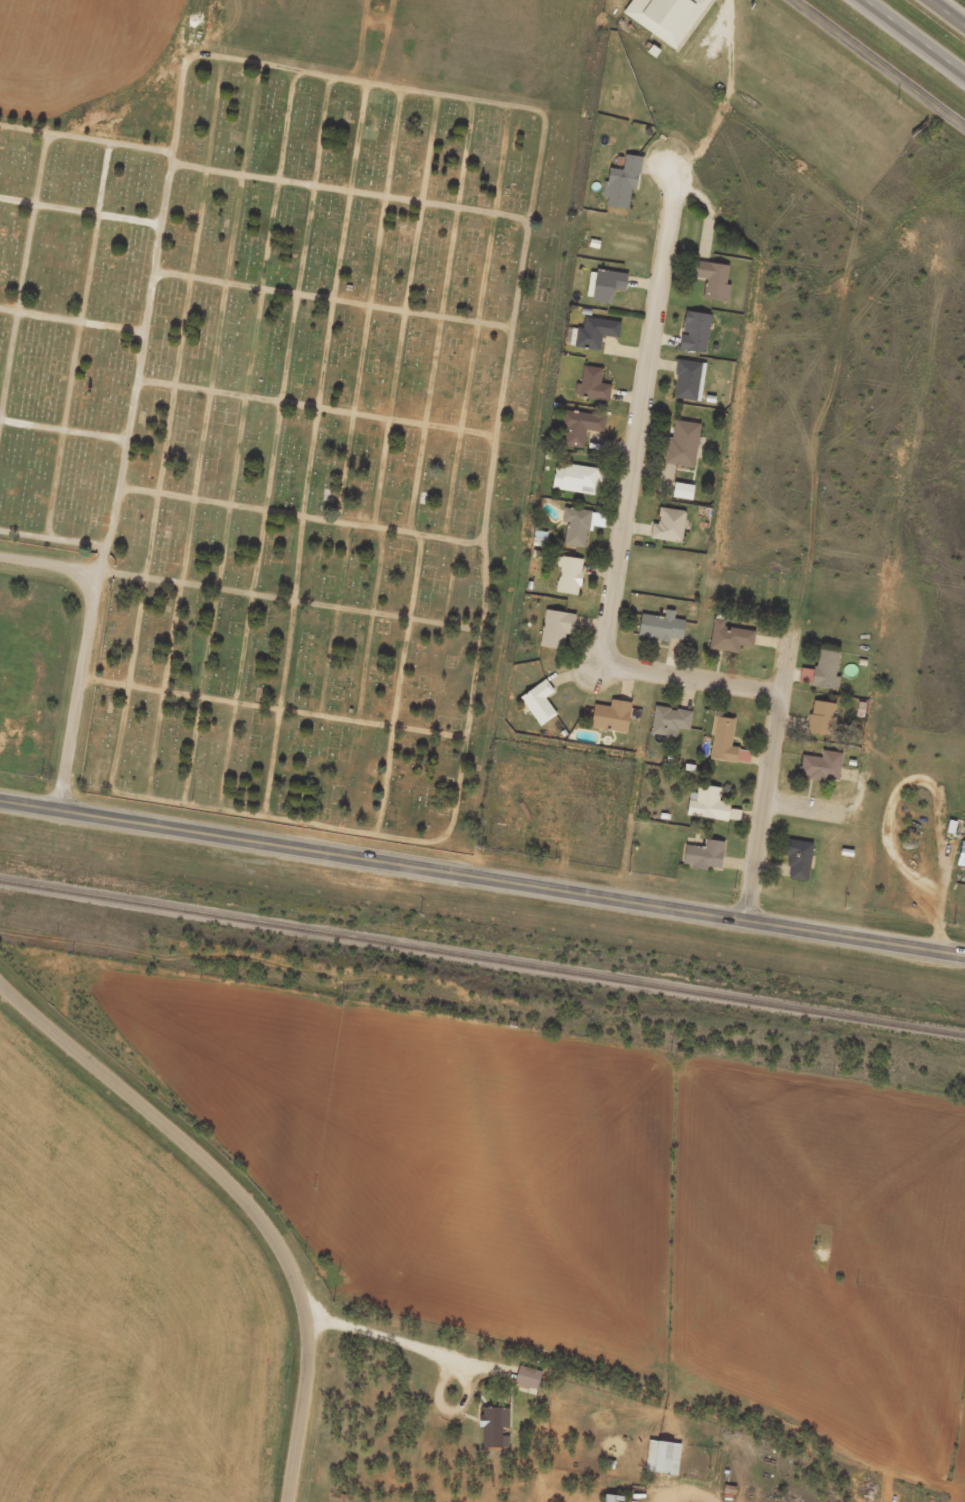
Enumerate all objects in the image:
road: (941, 17)
building: (664, 20)
road: (906, 43)
road: (879, 62)
building: (619, 189)
building: (710, 286)
building: (604, 291)
building: (692, 339)
building: (593, 340)
building: (687, 387)
building: (589, 391)
park: (287, 428)
building: (578, 434)
building: (681, 450)
building: (574, 485)
building: (680, 498)
road: (625, 506)
building: (666, 532)
building: (574, 534)
road: (47, 563)
building: (567, 582)
building: (658, 633)
building: (553, 636)
building: (727, 644)
building: (823, 677)
road: (79, 694)
building: (536, 709)
building: (608, 723)
building: (818, 725)
building: (668, 728)
building: (725, 750)
building: (819, 773)
road: (768, 779)
building: (705, 811)
road: (803, 815)
building: (732, 821)
building: (960, 861)
building: (702, 862)
building: (795, 866)
road: (482, 882)
railway: (482, 958)
road: (232, 1203)
road: (434, 1361)
building: (525, 1384)
building: (492, 1433)
building: (660, 1465)
building: (602, 1501)

